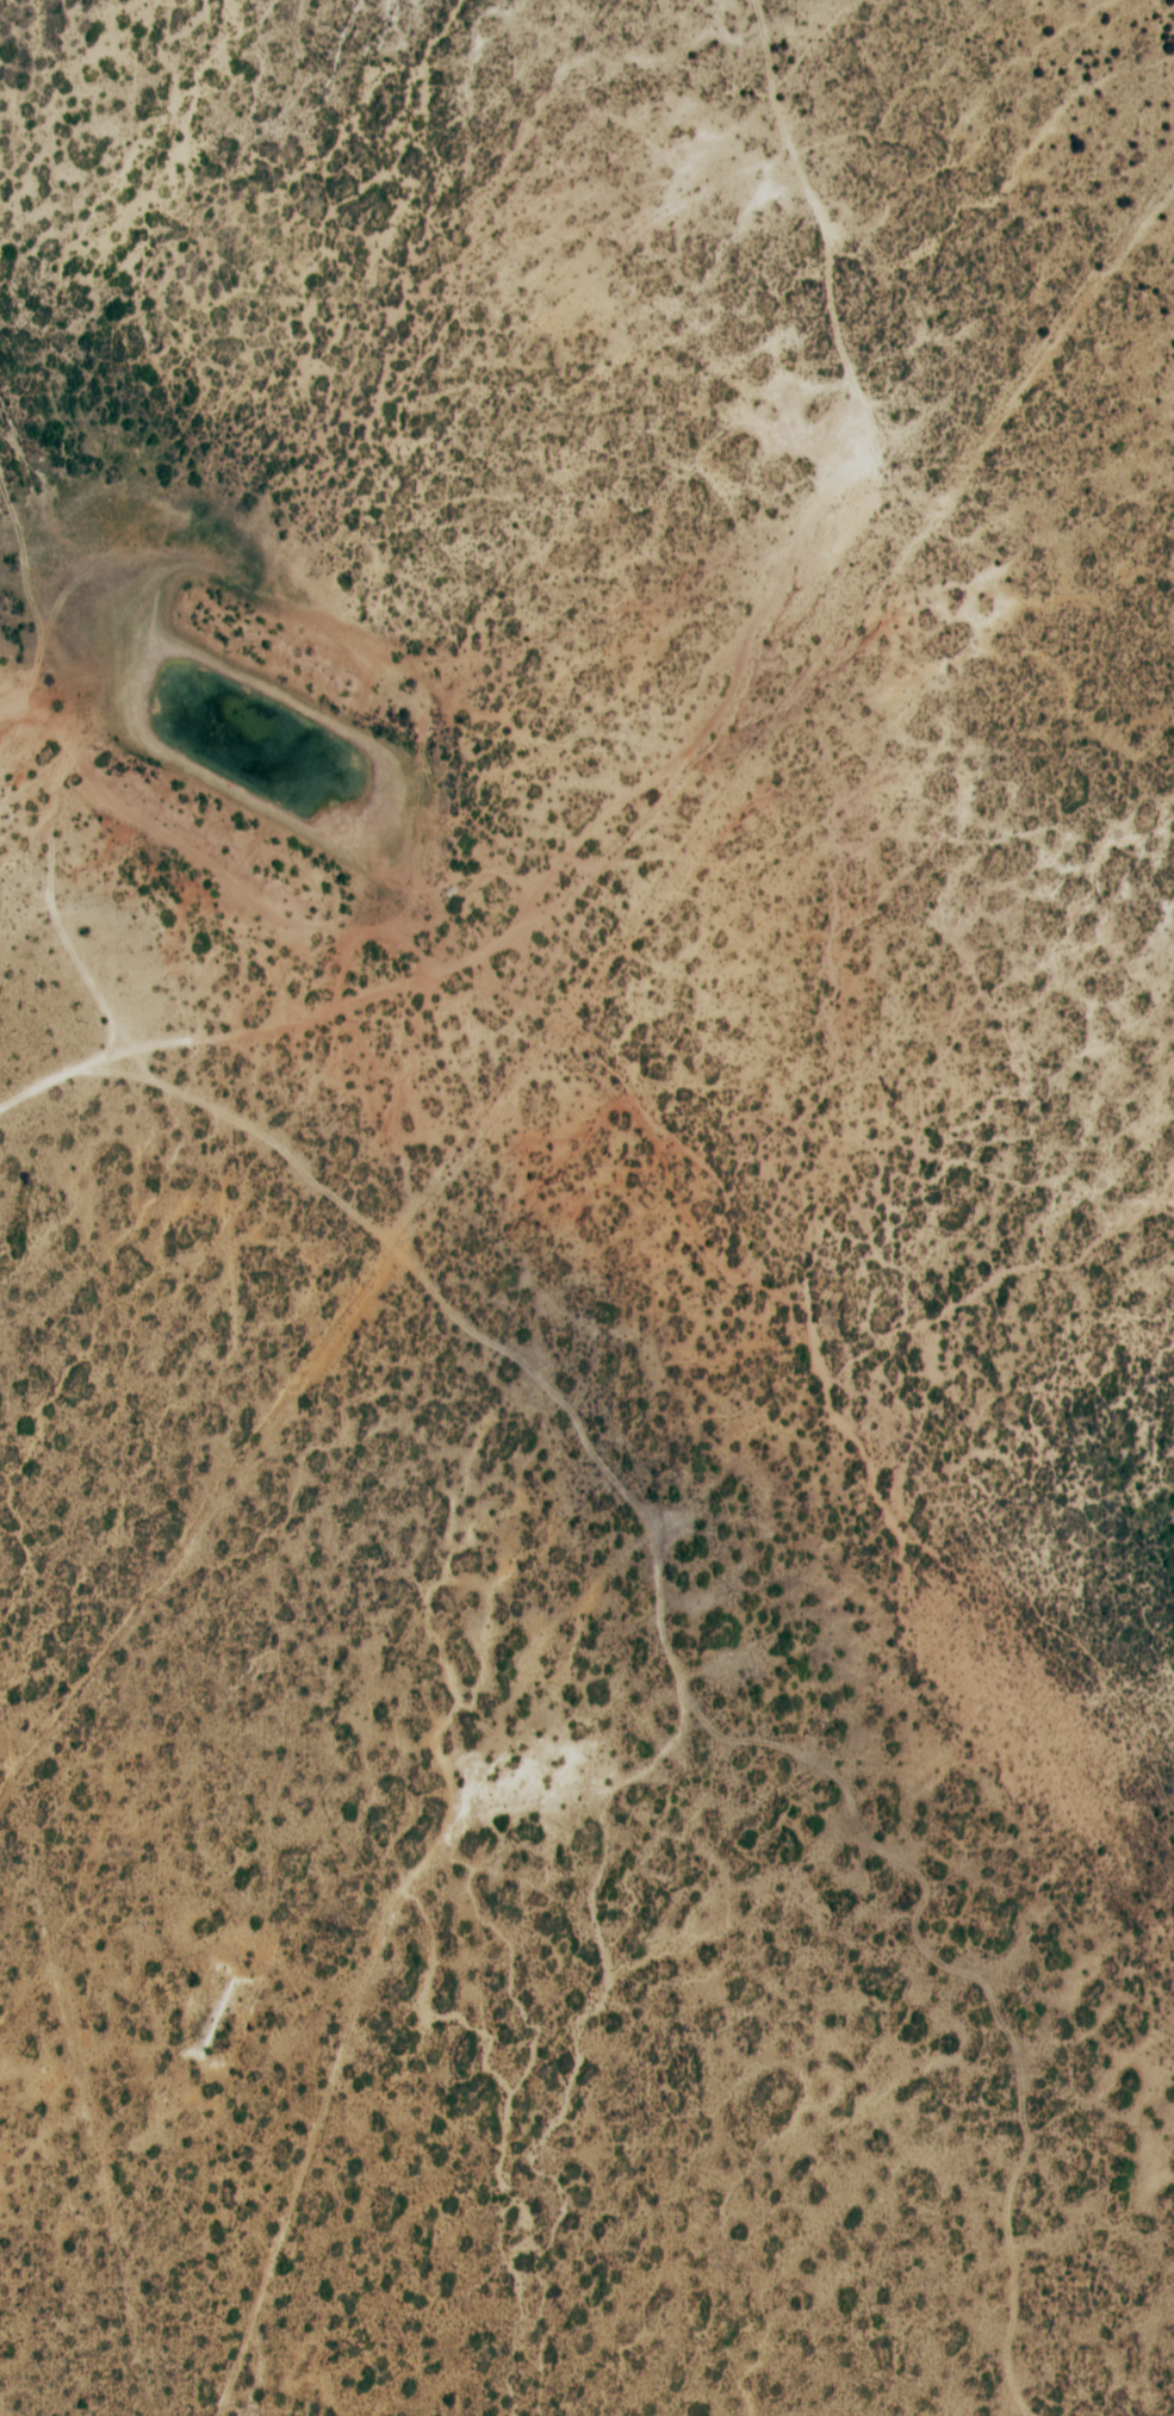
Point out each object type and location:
road: (709, 1650)

